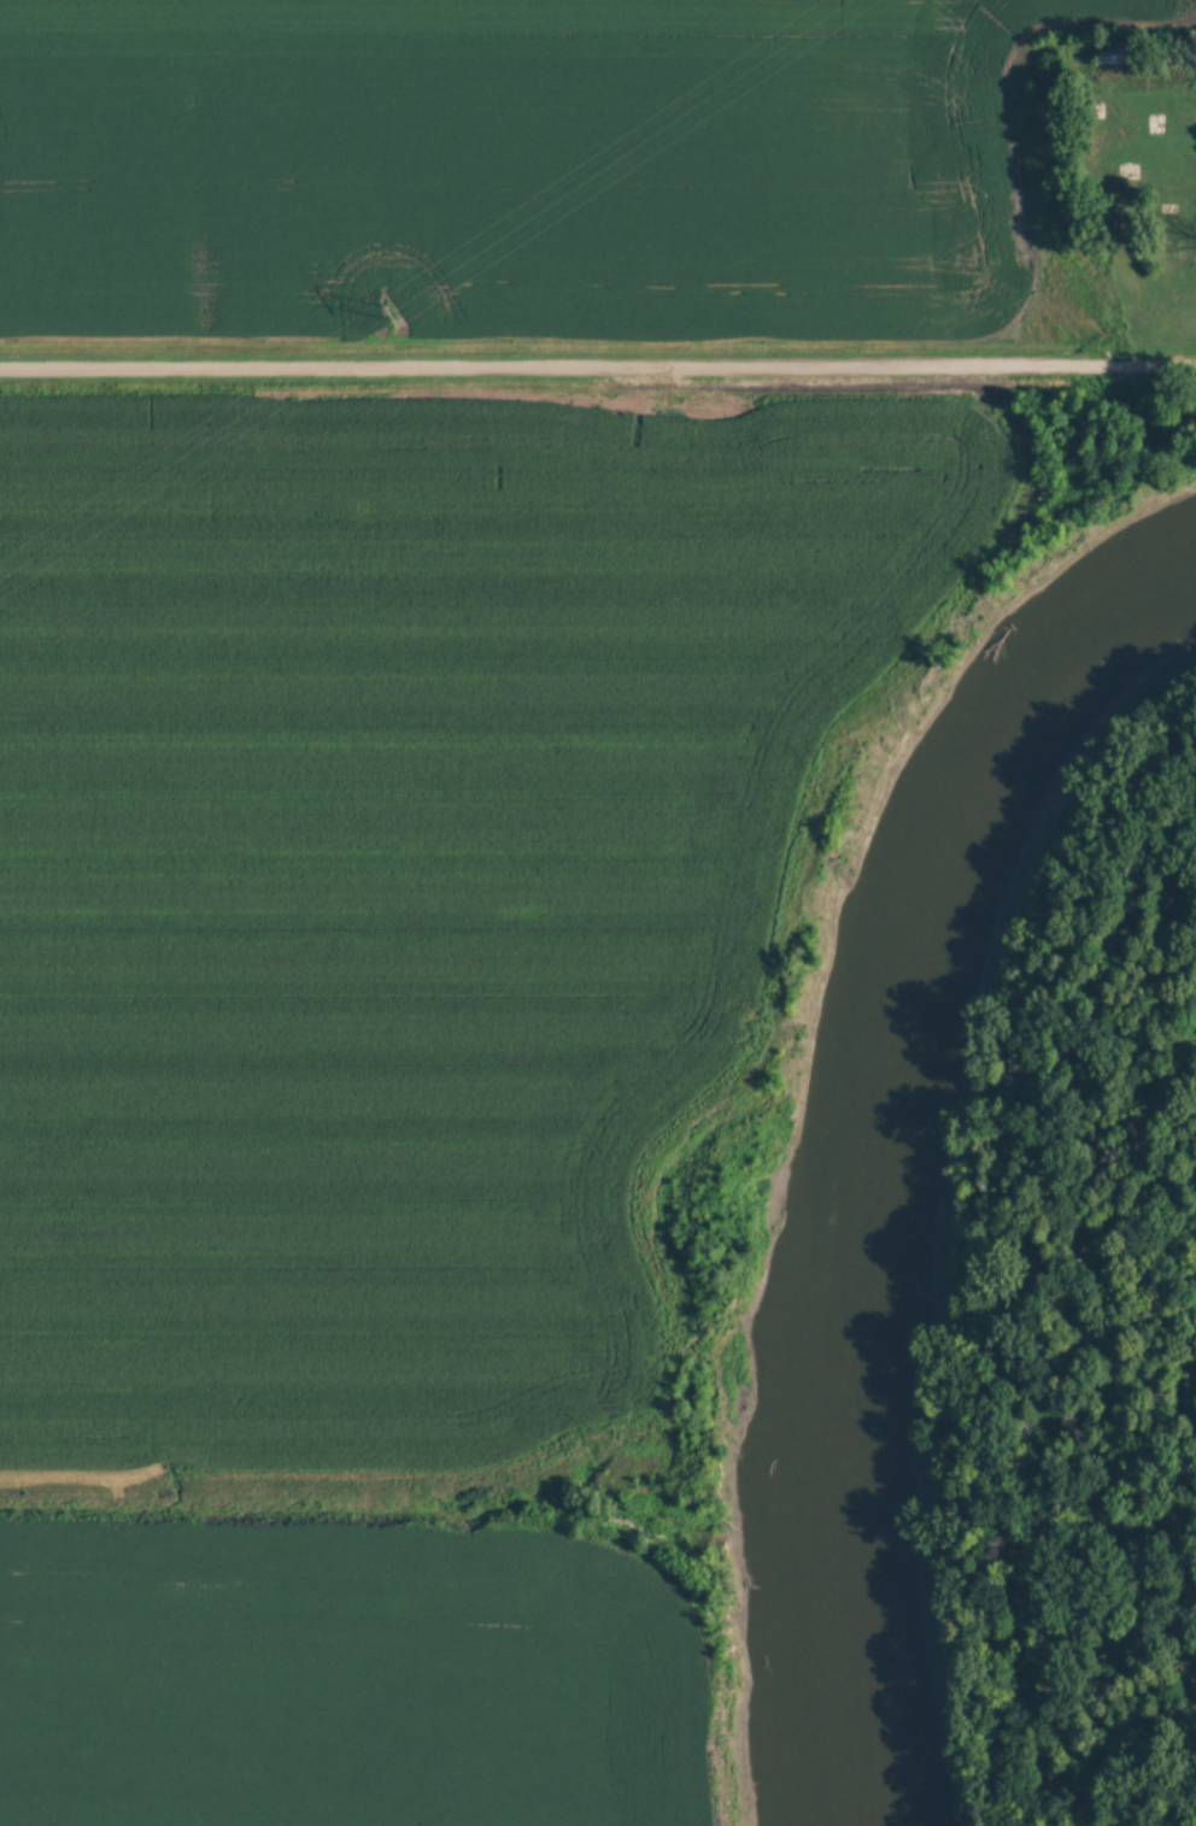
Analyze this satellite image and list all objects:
power tower: (391, 318)
road: (598, 366)
river: (895, 1156)

